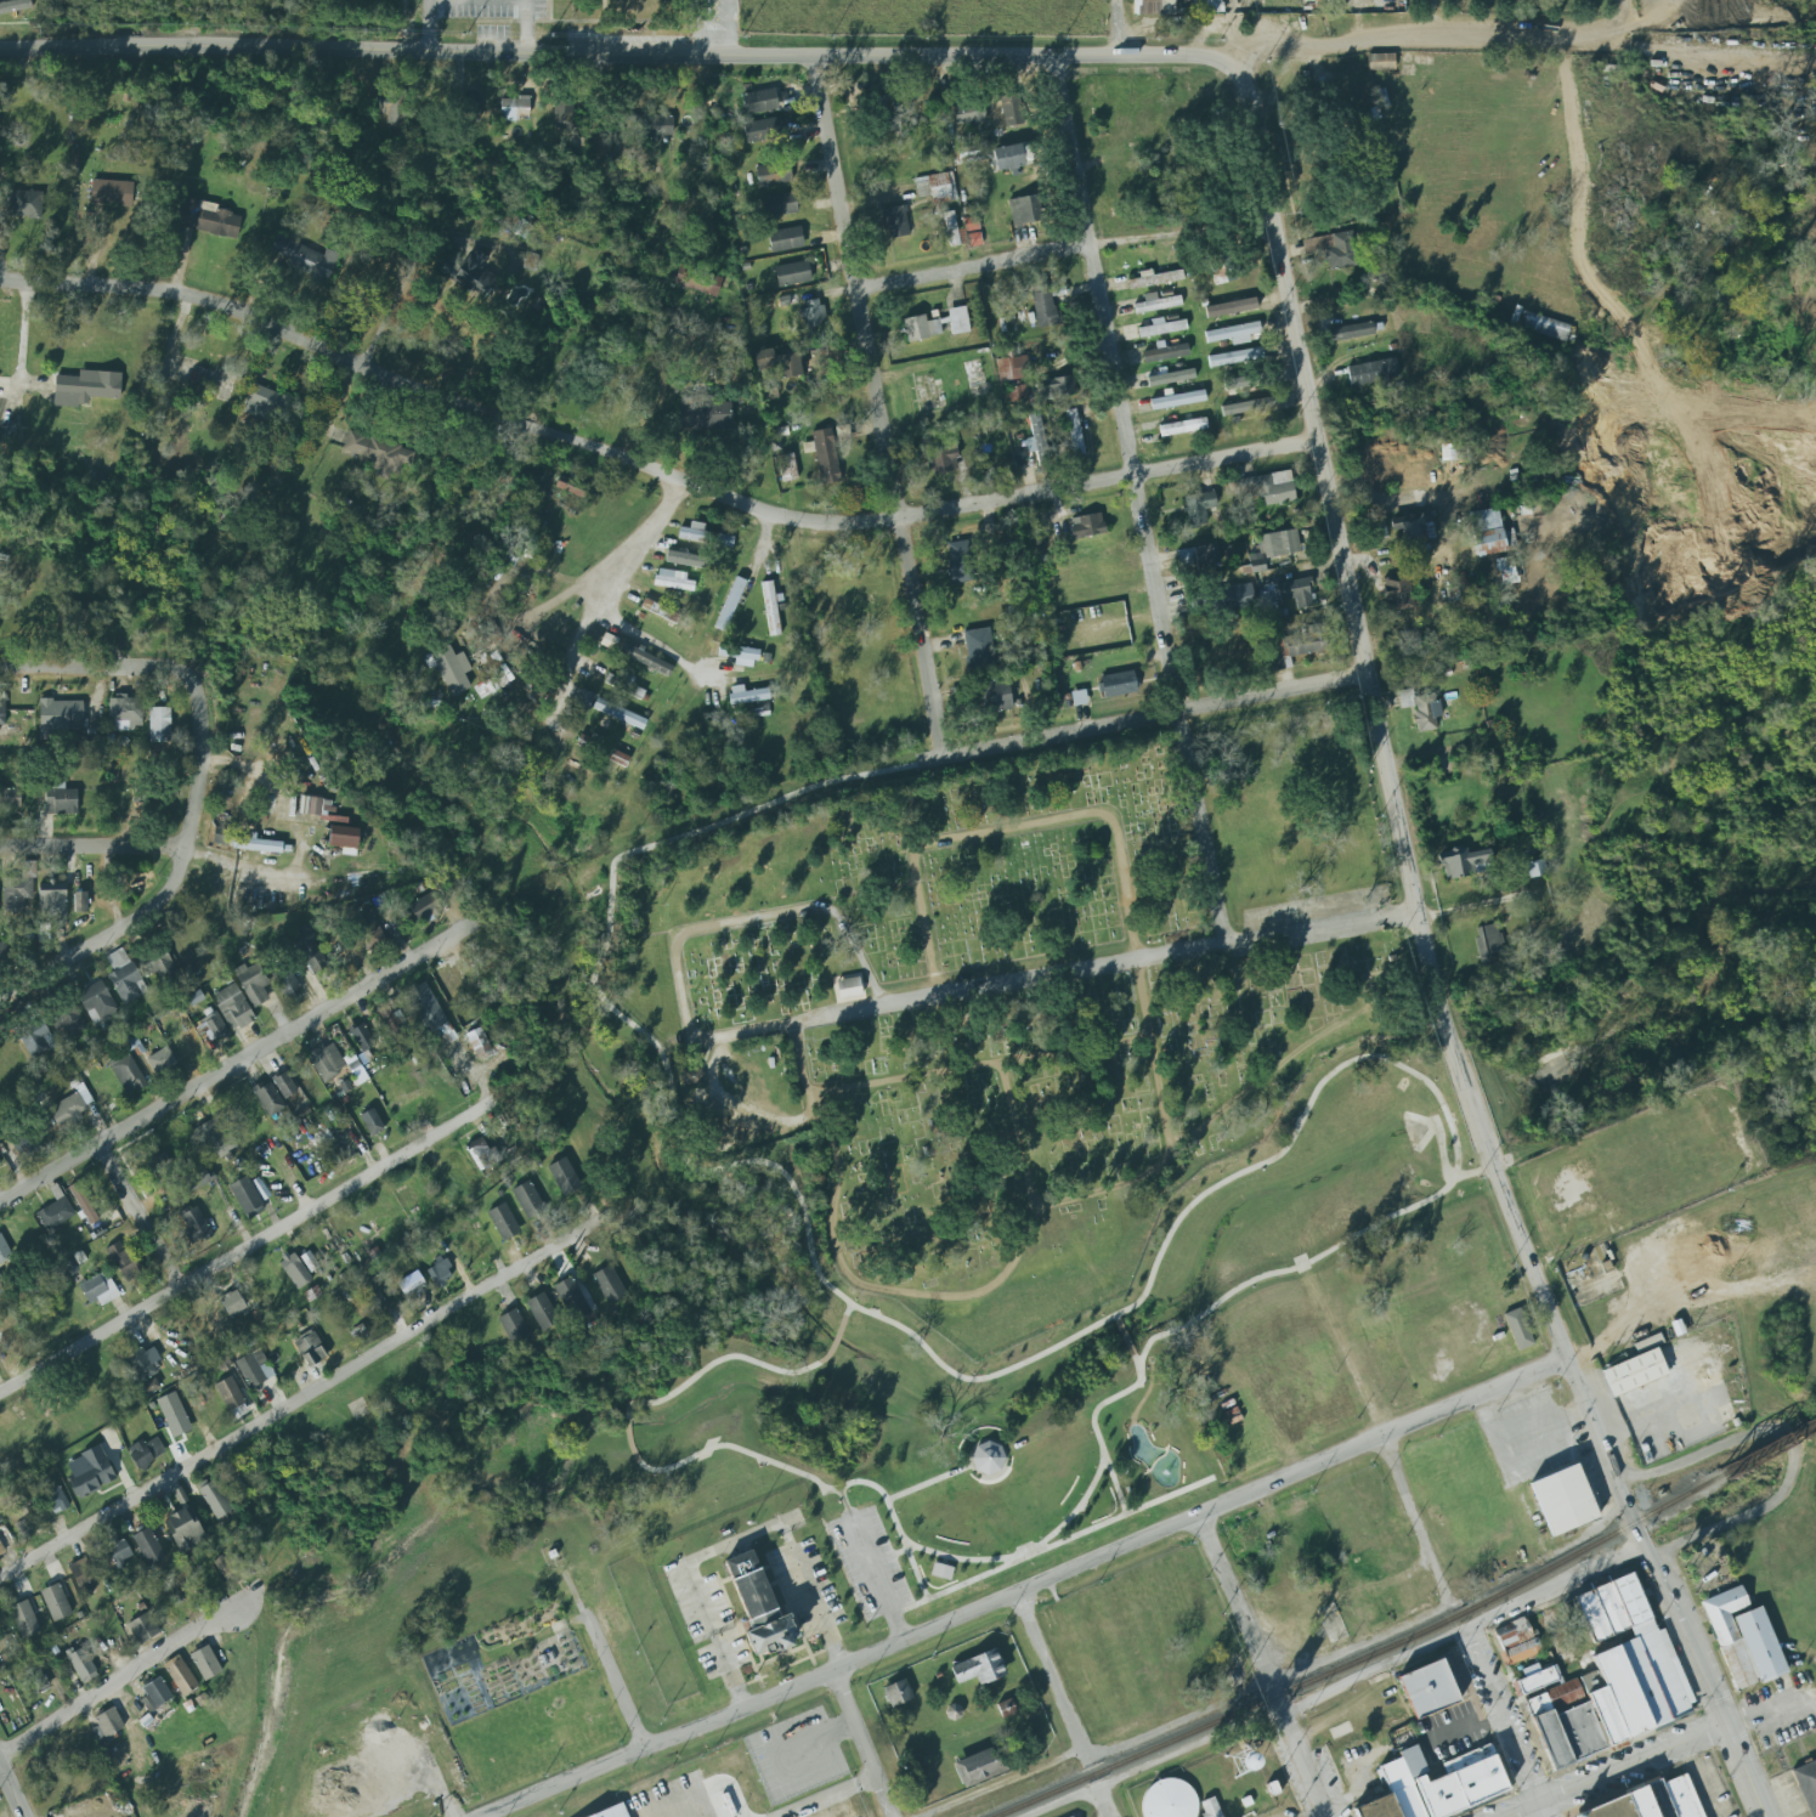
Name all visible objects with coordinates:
building: (13, 6)
building: (1212, 6)
building: (1153, 7)
road: (1616, 12)
road: (1433, 19)
road: (426, 26)
road: (525, 27)
road: (700, 28)
road: (725, 28)
road: (1115, 28)
road: (1231, 32)
road: (1421, 40)
road: (1661, 55)
road: (617, 56)
building: (1380, 62)
road: (590, 90)
building: (760, 100)
building: (994, 107)
building: (514, 108)
building: (395, 109)
building: (1011, 109)
building: (968, 113)
building: (562, 114)
building: (647, 128)
building: (763, 130)
building: (599, 146)
building: (969, 153)
building: (1007, 157)
building: (773, 174)
building: (934, 186)
building: (111, 193)
building: (24, 204)
building: (779, 205)
building: (1023, 210)
building: (208, 220)
building: (895, 222)
building: (962, 231)
building: (786, 239)
road: (1062, 249)
building: (1333, 249)
building: (306, 256)
road: (409, 266)
building: (474, 272)
building: (793, 272)
building: (1156, 278)
building: (697, 281)
building: (1039, 287)
building: (1156, 302)
building: (1231, 307)
building: (1043, 309)
building: (813, 316)
road: (741, 317)
building: (958, 319)
building: (1161, 327)
building: (1545, 327)
building: (921, 328)
building: (1351, 330)
road: (23, 332)
building: (1233, 333)
building: (1165, 353)
building: (1235, 357)
building: (777, 361)
building: (1013, 368)
building: (1373, 372)
building: (1169, 375)
building: (85, 386)
building: (1056, 387)
building: (1016, 394)
building: (1177, 400)
building: (266, 402)
road: (877, 407)
building: (1248, 407)
building: (702, 413)
building: (1182, 426)
building: (1074, 432)
building: (1036, 438)
building: (378, 453)
building: (825, 455)
building: (944, 458)
road: (649, 468)
building: (787, 468)
building: (570, 486)
building: (1267, 487)
road: (1137, 499)
road: (1411, 502)
building: (1198, 508)
building: (1086, 526)
building: (1413, 527)
building: (1486, 532)
building: (703, 536)
building: (1509, 538)
building: (1280, 542)
building: (1195, 557)
building: (688, 560)
building: (960, 561)
building: (1506, 571)
building: (672, 579)
road: (598, 590)
building: (1297, 591)
building: (1397, 591)
road: (553, 600)
building: (1222, 600)
building: (730, 604)
building: (770, 609)
building: (661, 610)
building: (73, 617)
road: (649, 639)
building: (1302, 644)
building: (979, 649)
building: (746, 657)
building: (646, 660)
road: (91, 666)
building: (452, 669)
building: (491, 675)
building: (1116, 684)
building: (621, 685)
building: (746, 695)
building: (994, 696)
building: (584, 697)
building: (1079, 697)
building: (1420, 708)
building: (2, 711)
building: (125, 711)
building: (58, 713)
building: (618, 713)
road: (1153, 715)
building: (159, 724)
building: (617, 758)
road: (811, 789)
building: (10, 798)
building: (61, 798)
road: (1392, 804)
building: (319, 809)
road: (1012, 827)
building: (344, 839)
road: (92, 845)
building: (255, 845)
building: (1464, 862)
road: (270, 868)
building: (1535, 868)
road: (175, 878)
building: (18, 889)
building: (52, 900)
building: (80, 902)
road: (1482, 904)
building: (424, 907)
road: (753, 917)
building: (370, 936)
building: (1487, 943)
building: (5, 955)
building: (315, 960)
building: (160, 966)
road: (1052, 974)
building: (124, 977)
building: (253, 983)
building: (288, 985)
building: (848, 987)
building: (97, 1004)
building: (233, 1007)
building: (426, 1008)
park: (985, 1009)
building: (67, 1020)
building: (392, 1021)
building: (210, 1029)
building: (35, 1036)
building: (361, 1037)
building: (129, 1041)
building: (477, 1042)
road: (1153, 1057)
building: (160, 1060)
building: (327, 1062)
road: (232, 1064)
road: (978, 1065)
building: (129, 1074)
building: (284, 1085)
building: (268, 1098)
building: (68, 1110)
building: (372, 1122)
building: (214, 1137)
building: (479, 1147)
building: (24, 1148)
road: (1177, 1149)
building: (153, 1161)
building: (0, 1164)
building: (564, 1177)
building: (247, 1196)
building: (527, 1199)
building: (84, 1204)
building: (55, 1213)
road: (138, 1216)
road: (832, 1217)
building: (503, 1222)
building: (194, 1226)
road: (248, 1247)
building: (4, 1250)
building: (124, 1261)
building: (309, 1261)
building: (294, 1270)
building: (440, 1273)
building: (609, 1284)
building: (411, 1285)
building: (98, 1289)
building: (374, 1297)
building: (571, 1298)
building: (232, 1303)
building: (542, 1311)
building: (514, 1328)
building: (1517, 1328)
building: (310, 1348)
building: (143, 1363)
park: (1057, 1363)
building: (1636, 1368)
building: (249, 1370)
building: (149, 1386)
building: (1399, 1389)
building: (230, 1393)
road: (299, 1399)
building: (174, 1414)
parking lot: (1534, 1425)
road: (1493, 1434)
railway: (1766, 1449)
road: (1792, 1449)
building: (146, 1451)
road: (1104, 1457)
building: (989, 1461)
street lamp: (1093, 1465)
building: (89, 1471)
road: (928, 1482)
street lamp: (1080, 1494)
building: (214, 1498)
building: (57, 1500)
building: (1563, 1500)
road: (1074, 1511)
street lamp: (898, 1512)
street lamp: (1060, 1516)
building: (27, 1517)
road: (892, 1517)
road: (1411, 1518)
building: (183, 1526)
street lamp: (1040, 1535)
street lamp: (917, 1540)
building: (149, 1546)
building: (1, 1550)
street lamp: (946, 1550)
street lamp: (1007, 1550)
building: (119, 1553)
street lamp: (977, 1553)
road: (887, 1555)
road: (706, 1556)
road: (963, 1558)
road: (1016, 1560)
parking lot: (869, 1563)
building: (940, 1570)
building: (83, 1575)
road: (875, 1577)
road: (1025, 1589)
building: (55, 1602)
road: (816, 1606)
road: (1233, 1607)
building: (1612, 1607)
building: (760, 1612)
building: (23, 1619)
building: (143, 1628)
building: (1742, 1638)
building: (1522, 1651)
road: (605, 1658)
railway: (1363, 1658)
building: (205, 1663)
building: (81, 1664)
building: (1662, 1665)
building: (979, 1666)
road: (1697, 1669)
road: (729, 1674)
building: (180, 1675)
road: (1050, 1677)
building: (34, 1680)
building: (1538, 1681)
building: (1590, 1681)
building: (1641, 1681)
road: (117, 1682)
road: (1266, 1683)
road: (1337, 1686)
building: (1427, 1688)
building: (1620, 1691)
building: (898, 1693)
building: (154, 1694)
building: (1555, 1697)
road: (1805, 1699)
building: (1006, 1708)
parking lot: (1511, 1708)
building: (1605, 1716)
parking lot: (1490, 1717)
road: (1500, 1717)
building: (107, 1723)
parking lot: (1450, 1731)
building: (1579, 1731)
parking lot: (1282, 1732)
building: (1550, 1738)
road: (858, 1744)
road: (1665, 1749)
road: (1296, 1757)
water tower: (1241, 1764)
building: (980, 1765)
road: (1703, 1778)
building: (1478, 1781)
parking lot: (1331, 1782)
road: (1003, 1784)
building: (1807, 1785)
building: (1402, 1788)
parking lot: (1710, 1788)
road: (10, 1794)
road: (824, 1796)
road: (1501, 1796)
building: (1169, 1800)
storage tank: (1169, 1800)
building: (1651, 1801)
road: (1103, 1802)
building: (1210, 1807)
building: (1377, 1807)
parking lot: (1494, 1807)
road: (1520, 1810)
road: (1539, 1810)
building: (612, 1811)
parking lot: (1286, 1815)
road: (1317, 1816)

